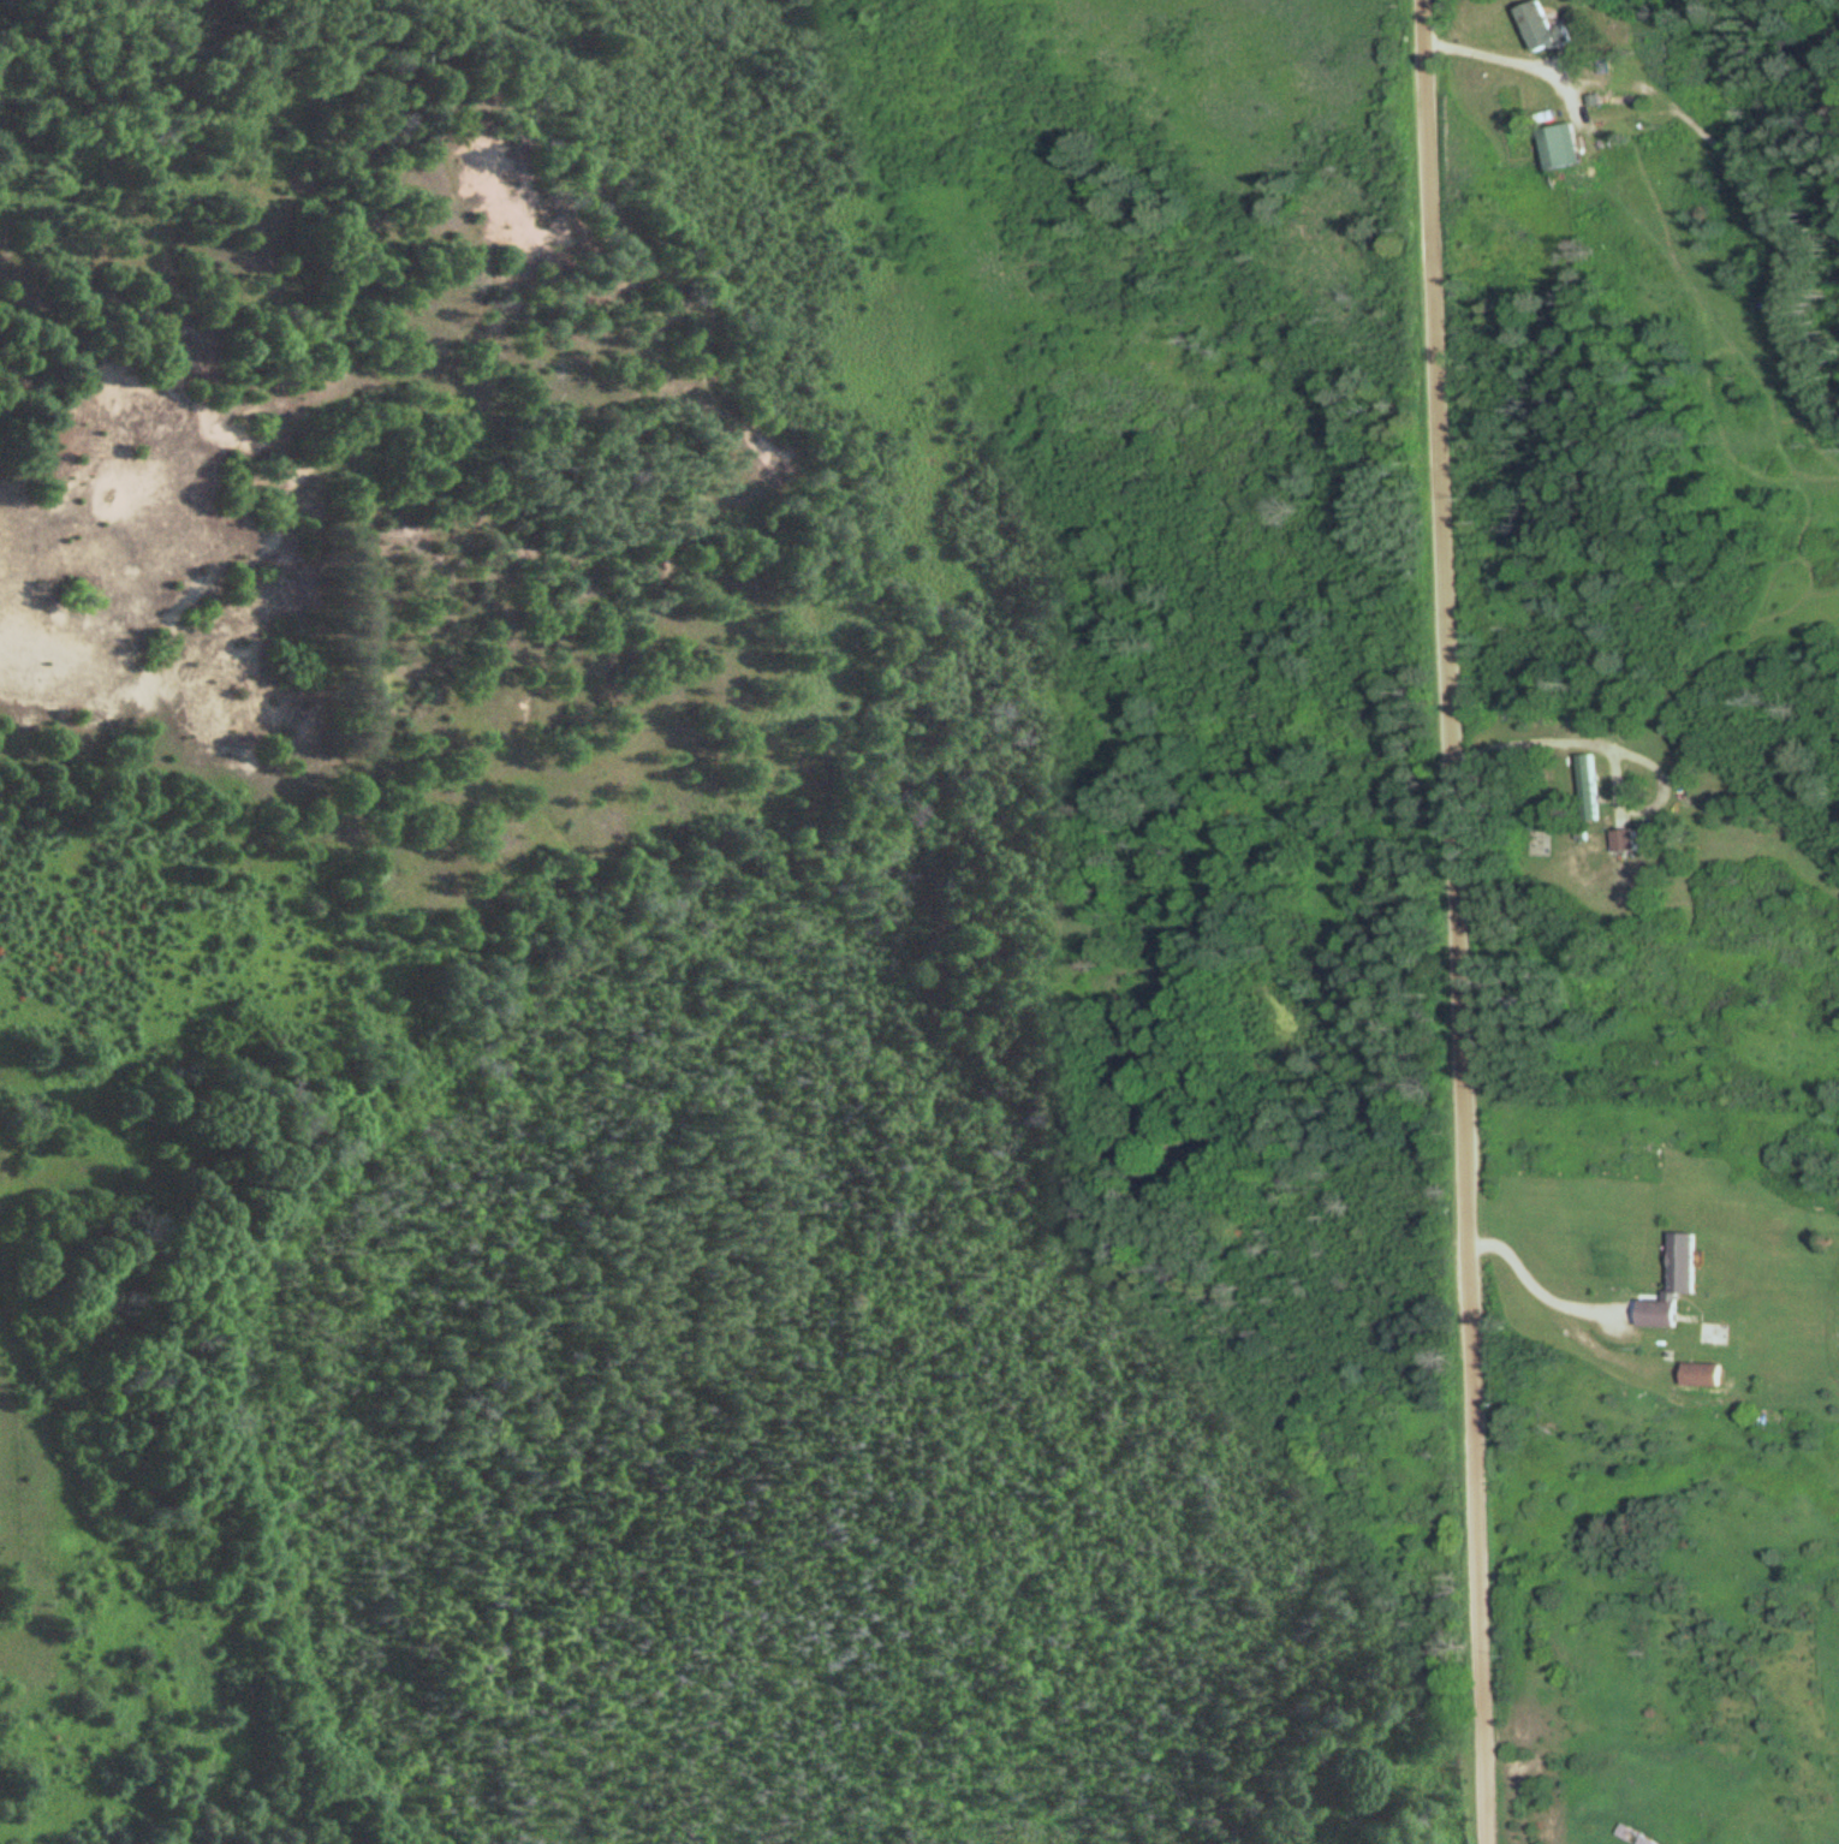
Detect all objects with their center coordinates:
building: (1543, 29)
building: (1560, 144)
building: (1590, 787)
building: (1625, 840)
road: (1454, 922)
building: (1673, 1283)
building: (1702, 1374)

